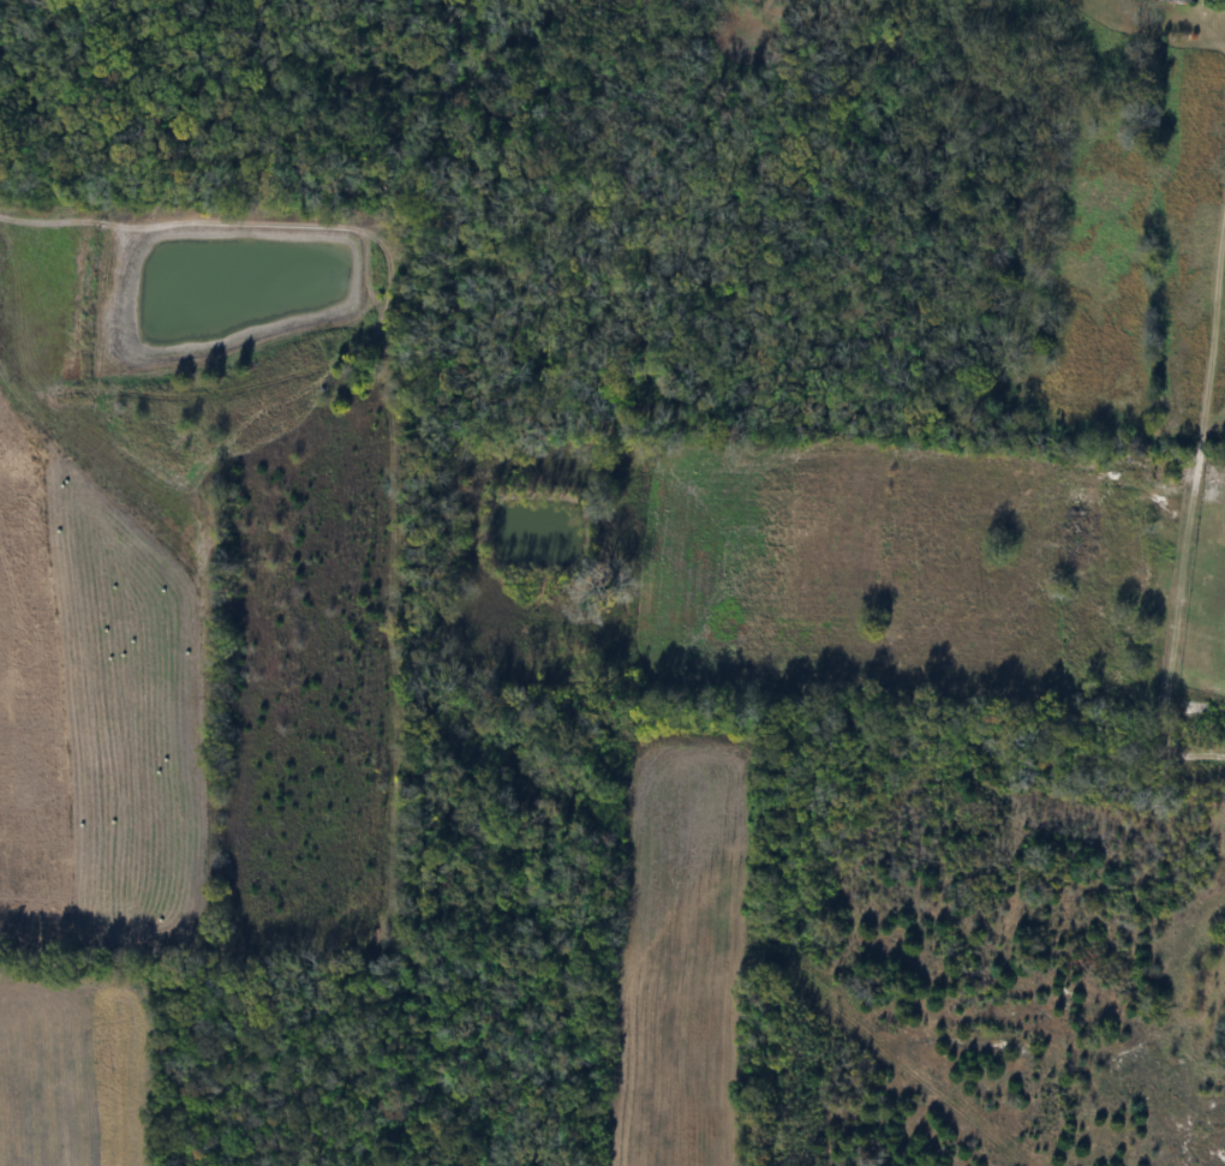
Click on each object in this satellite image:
building: (1177, 1)

